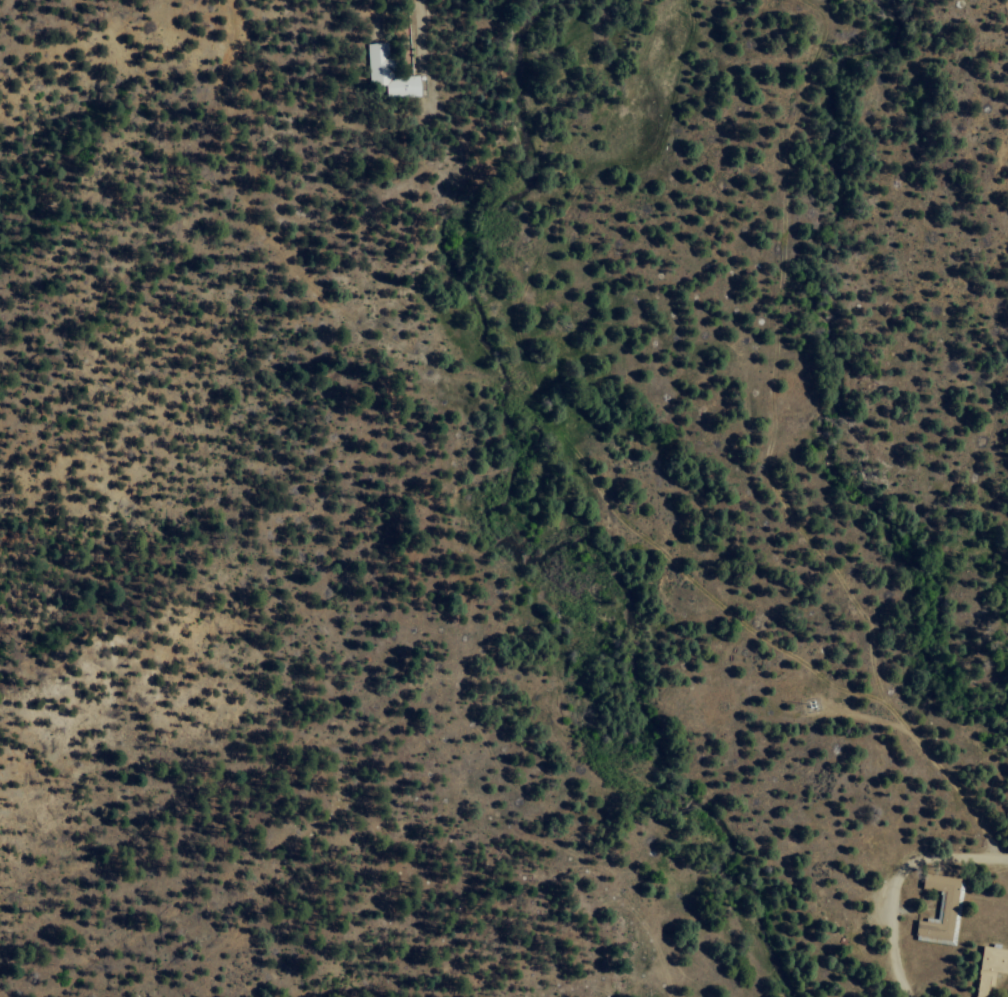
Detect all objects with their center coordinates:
road: (419, 34)
building: (377, 58)
road: (773, 388)
road: (559, 448)
road: (896, 882)
building: (939, 909)
building: (988, 968)

